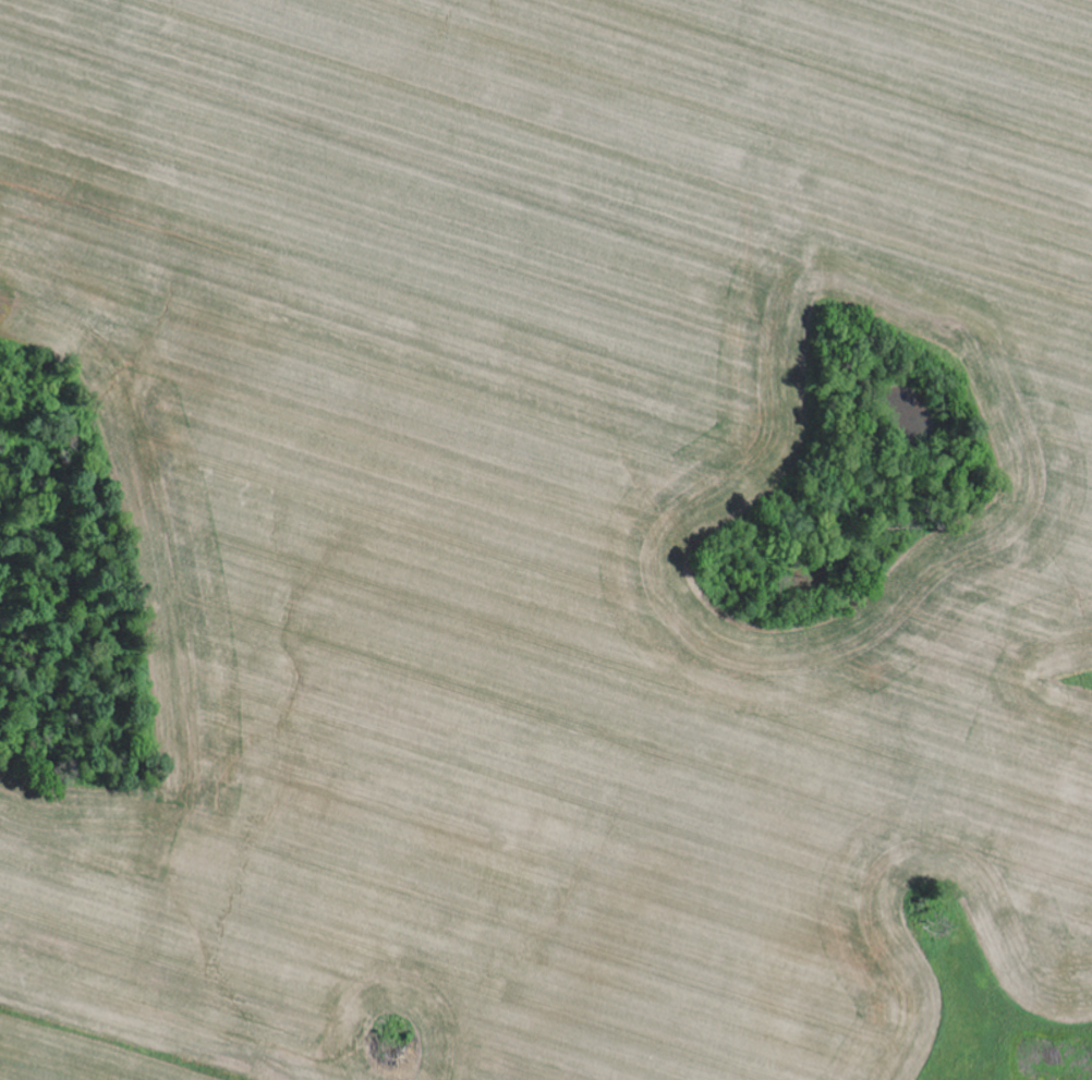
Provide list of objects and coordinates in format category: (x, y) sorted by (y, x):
road: (162, 1027)

